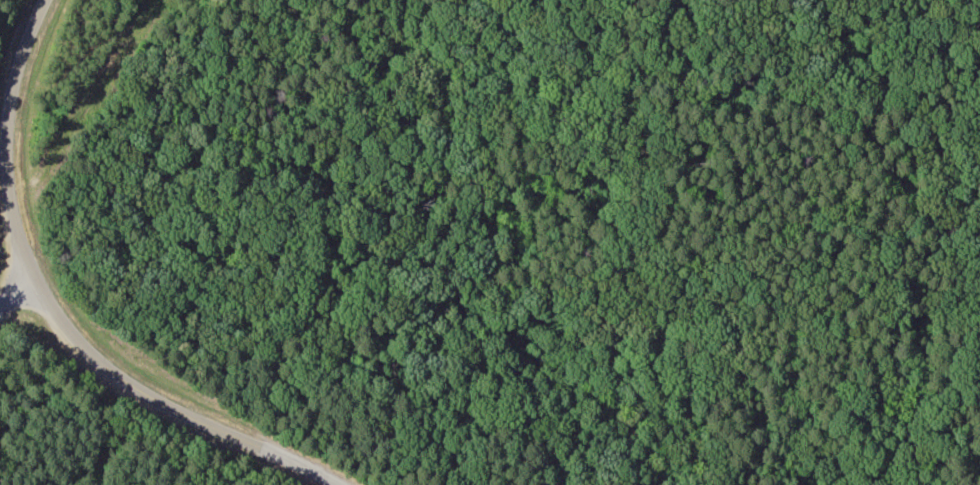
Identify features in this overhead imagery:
road: (5, 137)
road: (15, 292)
road: (167, 405)

